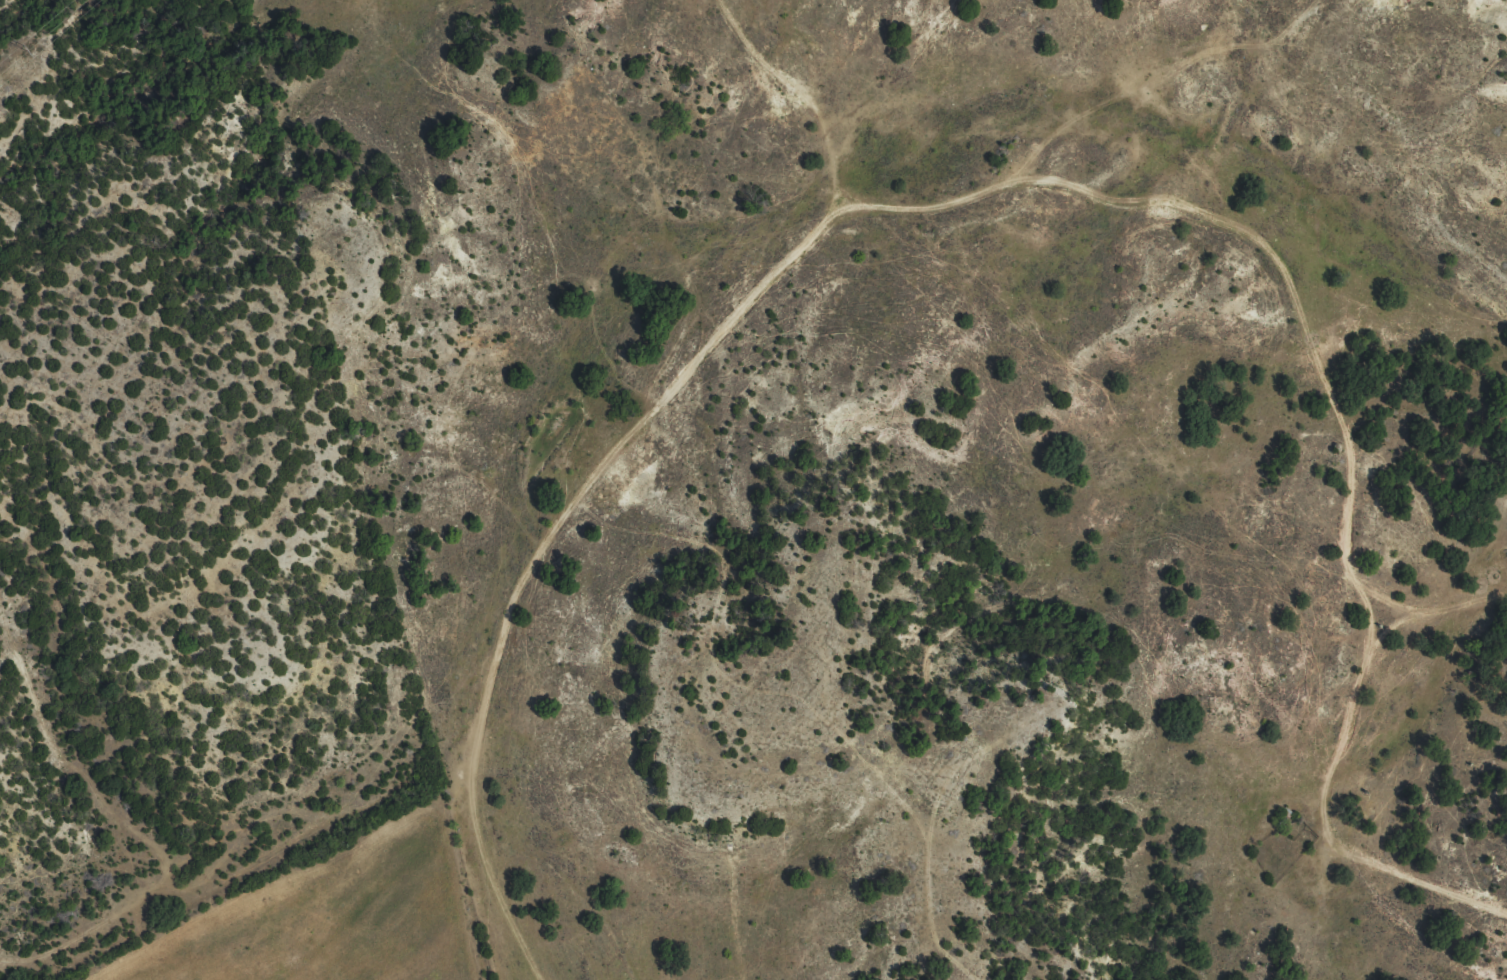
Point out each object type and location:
power tower: (26, 51)

